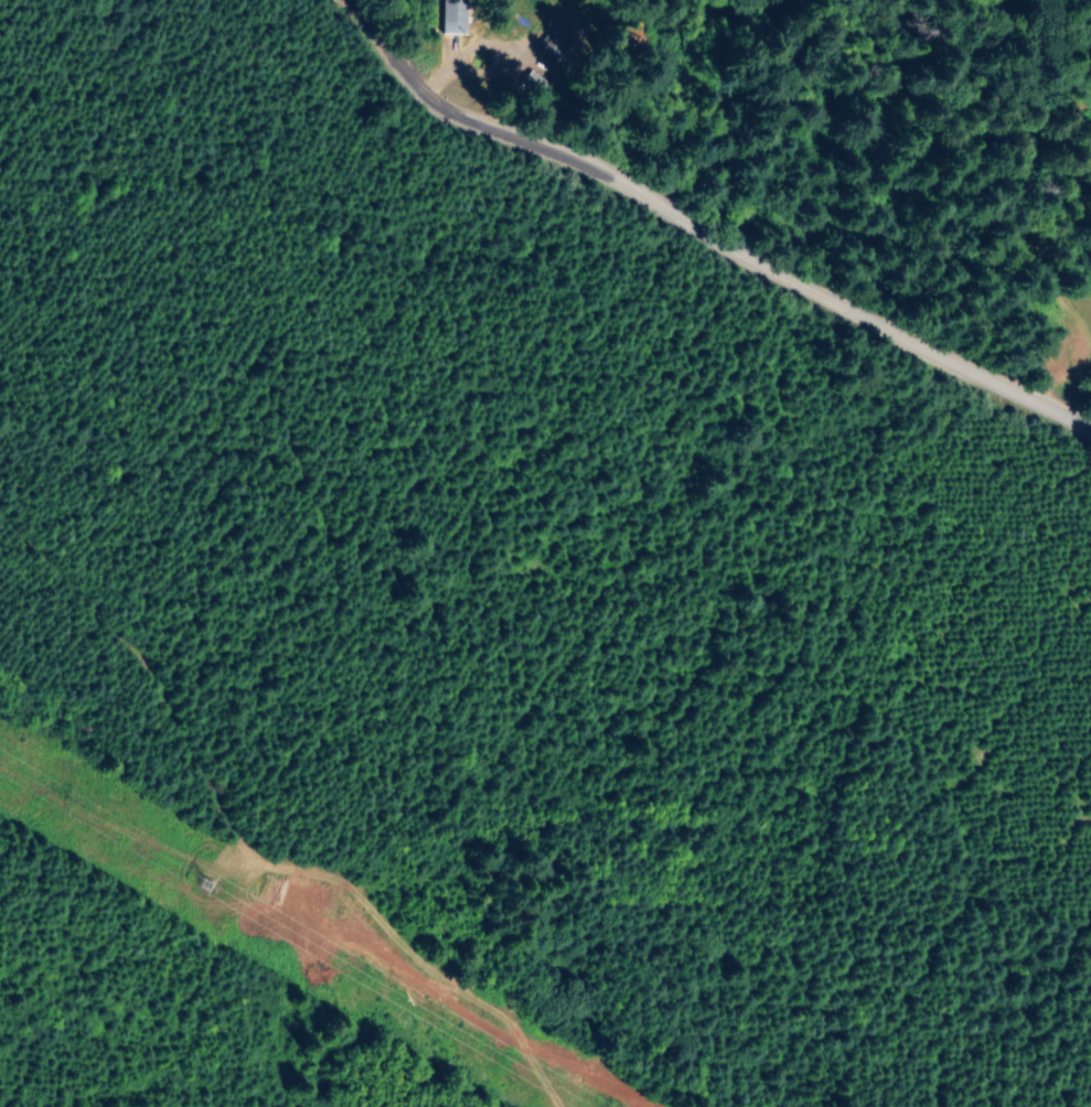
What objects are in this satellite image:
building: (559, 35)
road: (703, 223)
road: (164, 681)
power tower: (194, 873)

